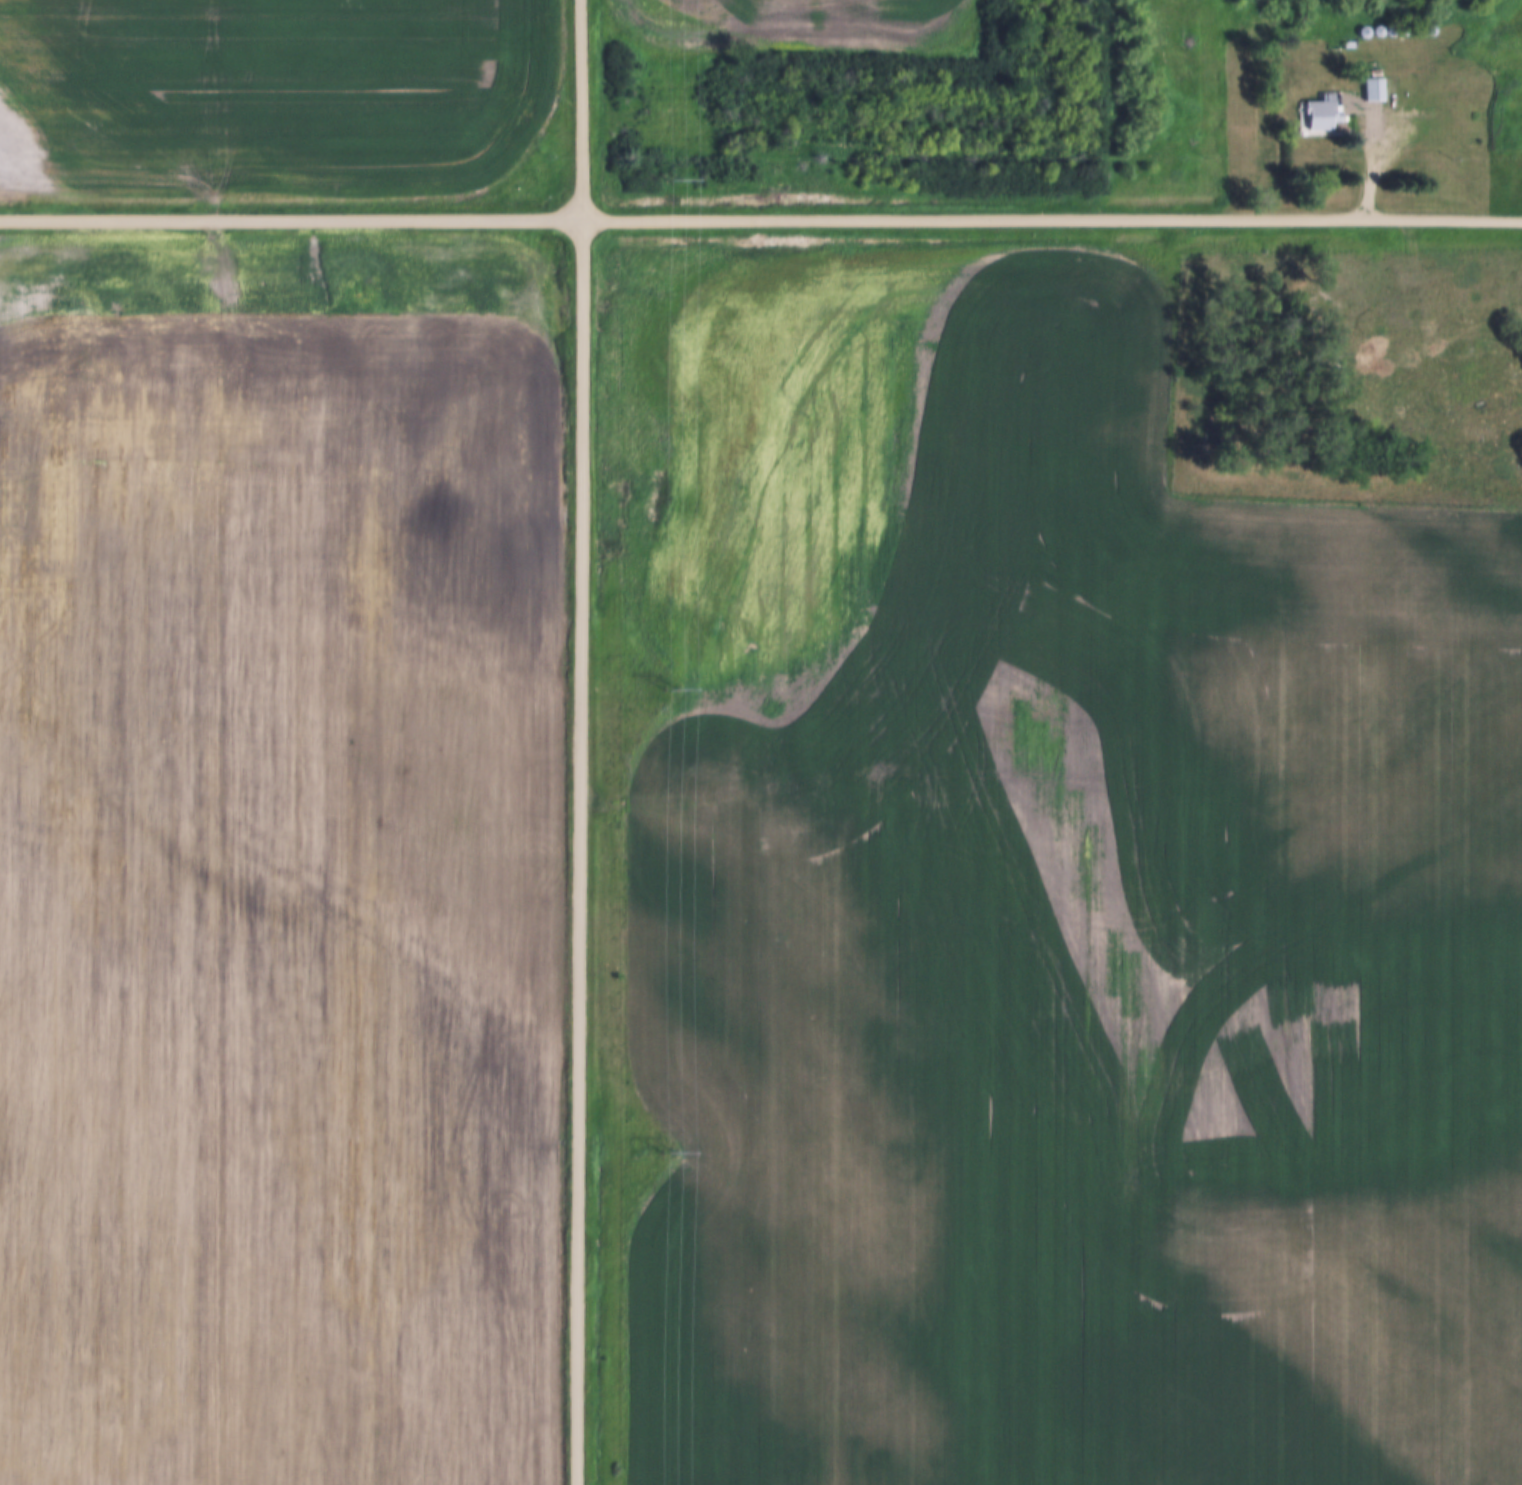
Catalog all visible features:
building: (1485, 76)
building: (1372, 91)
building: (1319, 118)
road: (1378, 164)
power tower: (671, 181)
road: (761, 220)
power tower: (667, 693)
road: (580, 742)
power tower: (668, 1154)

